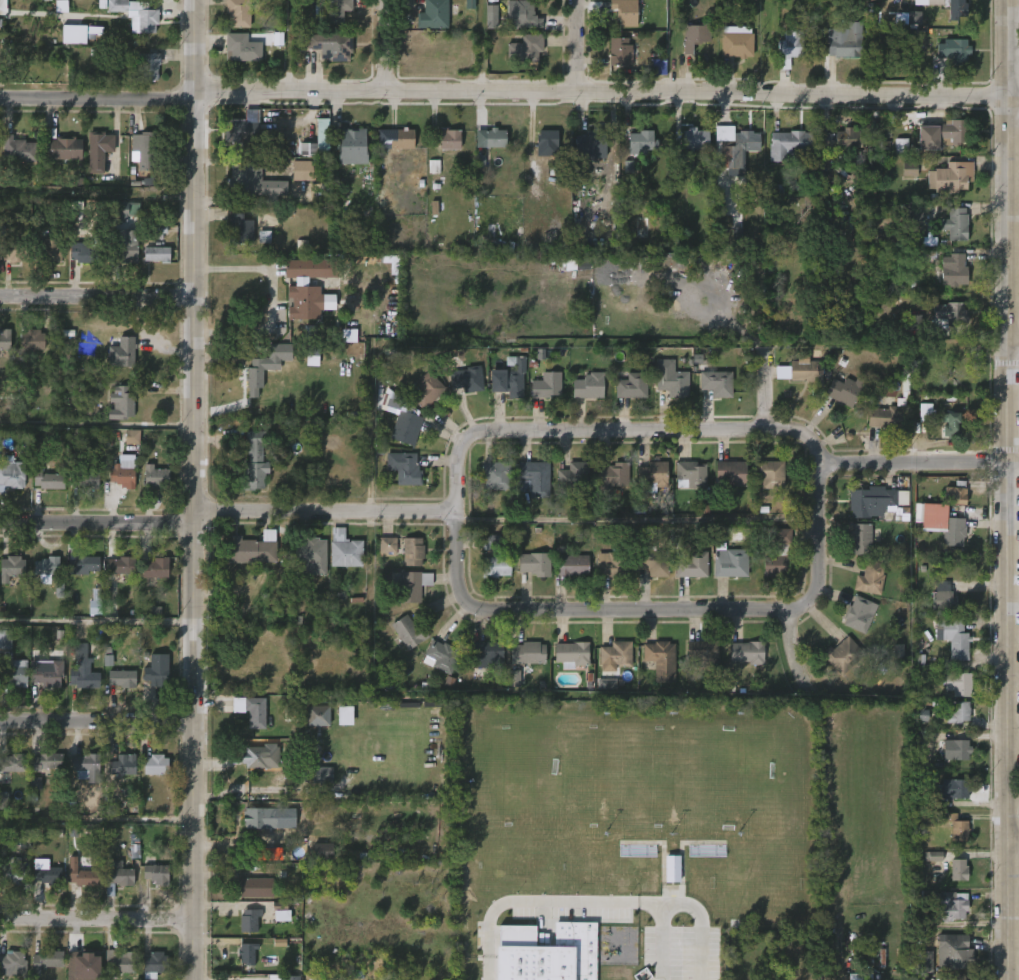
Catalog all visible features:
road: (0, 3)
building: (952, 7)
building: (626, 11)
building: (237, 13)
building: (334, 13)
building: (433, 15)
building: (525, 16)
building: (491, 17)
building: (913, 18)
building: (146, 21)
building: (74, 34)
building: (696, 36)
building: (846, 41)
building: (737, 42)
building: (330, 46)
road: (386, 48)
road: (484, 48)
road: (580, 48)
building: (790, 48)
building: (241, 49)
building: (525, 49)
building: (954, 50)
building: (622, 52)
building: (148, 66)
building: (658, 67)
road: (504, 97)
road: (1015, 106)
building: (244, 129)
building: (946, 134)
building: (495, 137)
building: (401, 138)
building: (450, 138)
building: (546, 138)
building: (589, 138)
building: (841, 138)
building: (318, 141)
building: (642, 141)
building: (737, 145)
building: (789, 145)
building: (901, 146)
building: (354, 147)
building: (17, 148)
building: (61, 148)
building: (142, 149)
building: (691, 149)
building: (99, 150)
building: (480, 163)
building: (909, 168)
building: (302, 170)
building: (953, 176)
building: (254, 181)
building: (122, 208)
building: (914, 216)
building: (956, 223)
building: (239, 228)
building: (159, 229)
building: (122, 247)
building: (49, 248)
building: (14, 250)
building: (85, 250)
building: (156, 253)
building: (577, 264)
building: (955, 270)
building: (309, 286)
road: (98, 297)
road: (270, 298)
building: (950, 313)
building: (913, 322)
building: (349, 336)
building: (4, 338)
building: (31, 339)
road: (1014, 347)
building: (121, 351)
building: (312, 356)
building: (946, 358)
building: (266, 365)
building: (806, 371)
building: (511, 378)
building: (467, 379)
building: (716, 382)
building: (674, 383)
building: (630, 384)
building: (547, 385)
building: (589, 386)
building: (426, 389)
building: (846, 391)
road: (1014, 399)
building: (120, 402)
building: (926, 413)
building: (887, 417)
road: (98, 424)
building: (951, 424)
building: (406, 428)
road: (613, 430)
building: (132, 437)
building: (253, 462)
road: (1014, 463)
road: (911, 465)
building: (408, 470)
building: (732, 472)
building: (770, 473)
building: (11, 474)
building: (653, 474)
building: (691, 474)
building: (121, 475)
building: (496, 475)
building: (574, 475)
building: (155, 476)
building: (83, 477)
building: (612, 477)
building: (46, 478)
building: (535, 478)
road: (1010, 489)
road: (196, 490)
building: (957, 493)
building: (875, 501)
road: (327, 512)
road: (636, 520)
road: (98, 525)
building: (954, 531)
building: (861, 539)
building: (491, 542)
building: (387, 546)
building: (251, 548)
building: (344, 550)
building: (412, 552)
building: (780, 555)
building: (310, 556)
building: (654, 561)
building: (731, 562)
building: (81, 563)
building: (534, 563)
building: (612, 564)
building: (120, 565)
building: (572, 565)
building: (692, 565)
building: (496, 566)
building: (11, 568)
building: (46, 568)
building: (154, 570)
building: (870, 578)
building: (411, 587)
building: (944, 597)
building: (95, 601)
road: (1014, 601)
road: (659, 611)
building: (859, 614)
road: (98, 622)
building: (408, 632)
building: (5, 639)
building: (957, 639)
building: (703, 650)
building: (747, 652)
road: (799, 652)
building: (527, 653)
building: (572, 654)
building: (487, 655)
building: (843, 655)
building: (441, 656)
building: (615, 656)
building: (662, 660)
building: (84, 665)
building: (47, 672)
building: (14, 674)
building: (155, 676)
building: (121, 678)
building: (514, 679)
building: (959, 683)
building: (254, 712)
building: (956, 712)
building: (319, 715)
building: (345, 716)
road: (97, 722)
building: (956, 750)
building: (260, 758)
building: (15, 762)
building: (46, 762)
building: (122, 765)
building: (154, 765)
building: (86, 766)
building: (322, 775)
building: (953, 789)
building: (3, 800)
building: (255, 818)
road: (97, 820)
building: (955, 826)
building: (18, 837)
building: (358, 845)
road: (1014, 847)
building: (268, 854)
building: (933, 856)
building: (672, 869)
building: (12, 870)
building: (959, 870)
building: (45, 873)
building: (81, 875)
building: (155, 875)
building: (116, 876)
building: (257, 887)
road: (542, 900)
building: (950, 907)
road: (699, 914)
road: (97, 919)
building: (249, 921)
road: (664, 941)
building: (952, 952)
building: (246, 954)
building: (551, 955)
building: (45, 960)
building: (118, 962)
building: (923, 962)
building: (12, 965)
building: (153, 965)
building: (84, 966)
road: (489, 966)
road: (1014, 971)
building: (287, 978)

